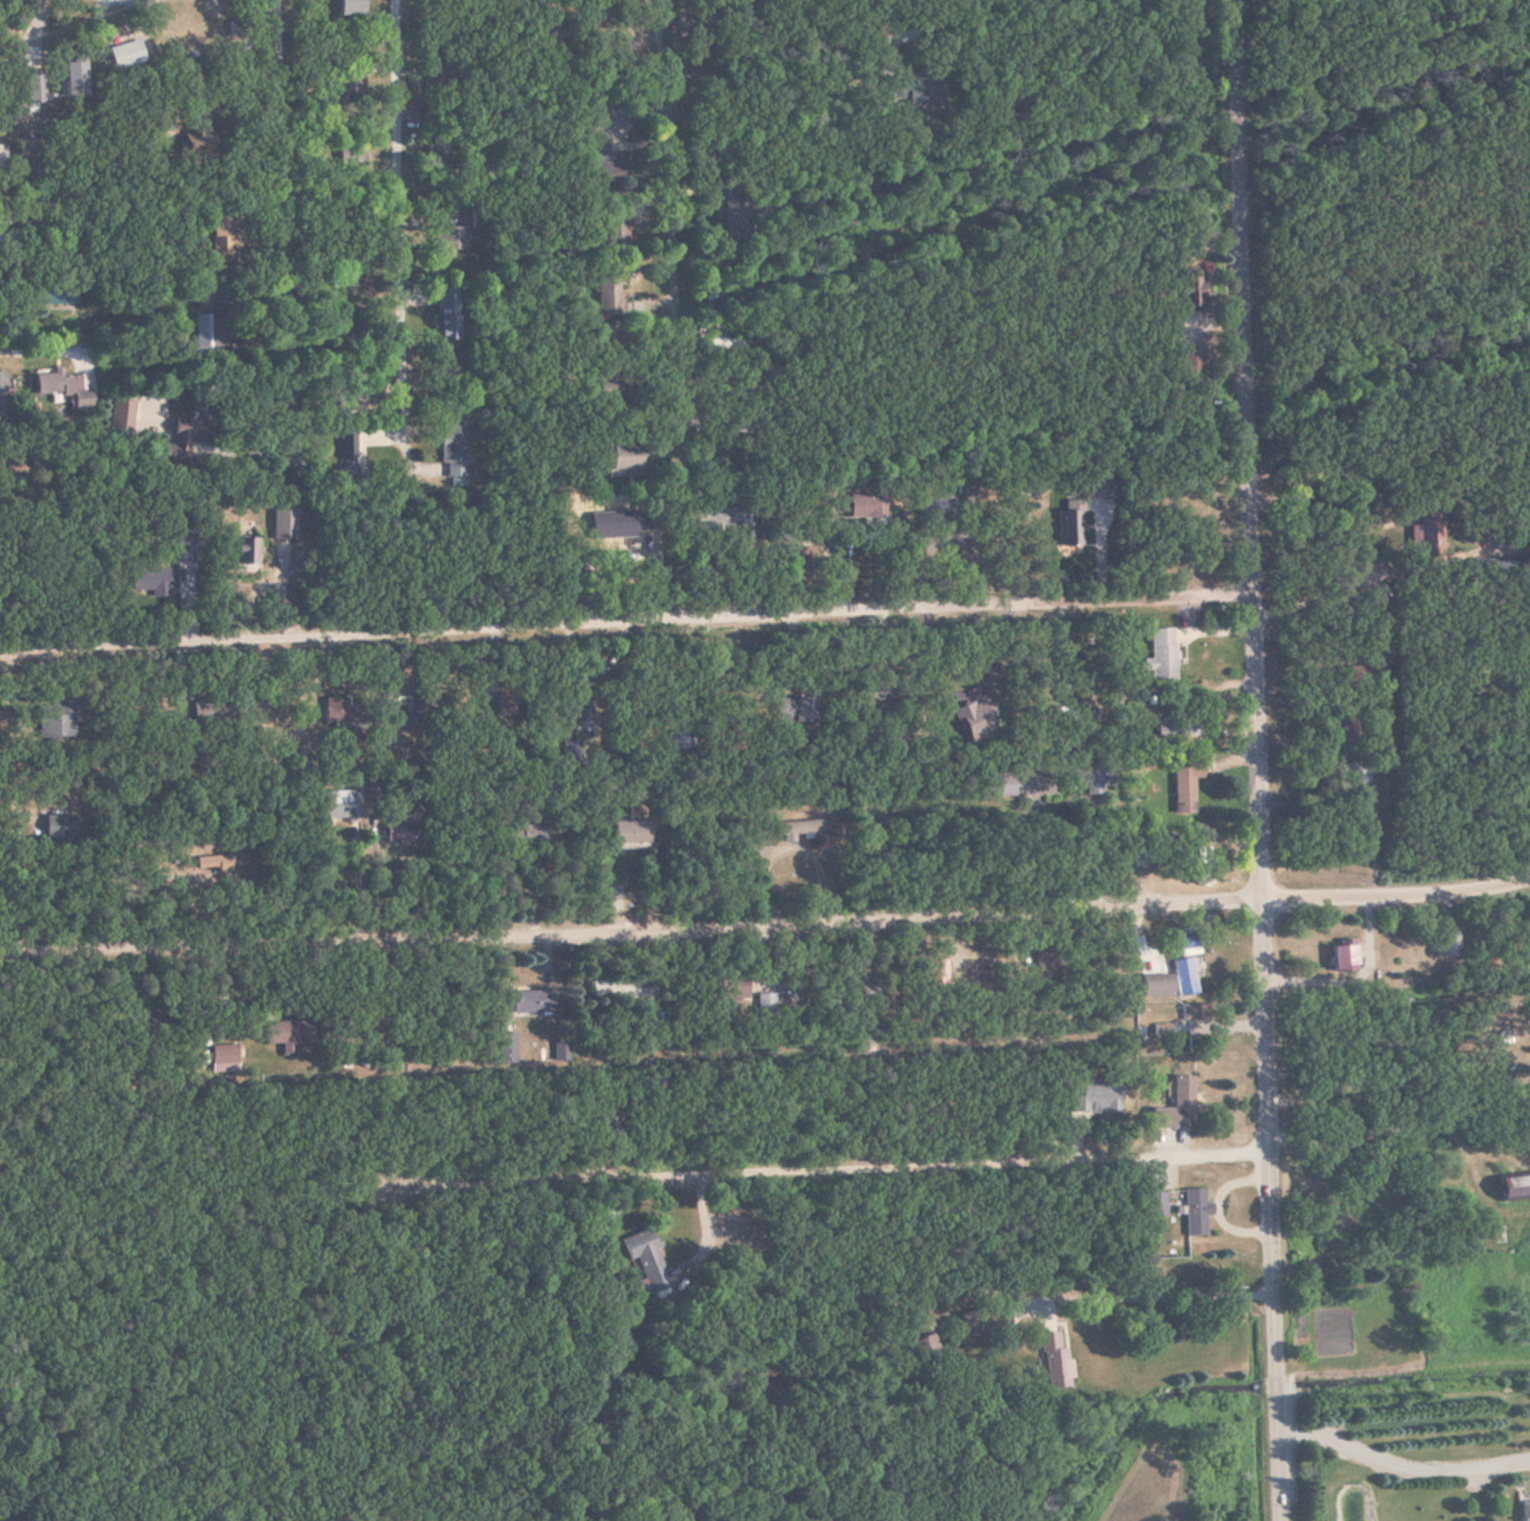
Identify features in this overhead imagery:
building: (351, 7)
road: (527, 18)
building: (547, 41)
building: (125, 54)
building: (439, 77)
road: (64, 94)
building: (28, 148)
building: (0, 156)
building: (598, 157)
road: (70, 198)
building: (718, 200)
road: (676, 232)
road: (403, 233)
road: (281, 235)
building: (222, 241)
building: (449, 242)
building: (1191, 289)
building: (607, 294)
road: (72, 297)
building: (446, 314)
building: (205, 329)
building: (359, 332)
building: (725, 346)
building: (54, 383)
building: (3, 394)
building: (121, 417)
building: (188, 432)
building: (345, 445)
building: (454, 451)
building: (624, 458)
building: (1099, 489)
building: (958, 493)
building: (865, 506)
building: (719, 520)
building: (639, 521)
building: (284, 525)
building: (1069, 528)
building: (1427, 531)
building: (185, 545)
building: (247, 552)
building: (798, 562)
building: (149, 580)
road: (624, 617)
building: (1160, 655)
building: (505, 708)
building: (581, 711)
building: (793, 711)
building: (409, 712)
building: (974, 720)
building: (342, 723)
building: (57, 724)
building: (1173, 727)
building: (1343, 728)
road: (1253, 760)
building: (1093, 778)
building: (1185, 784)
building: (1002, 785)
building: (341, 805)
building: (802, 831)
building: (403, 833)
building: (632, 833)
building: (535, 835)
building: (214, 865)
road: (766, 924)
building: (1189, 943)
building: (1447, 945)
building: (1344, 959)
building: (1044, 965)
building: (1184, 978)
building: (735, 984)
building: (1157, 989)
building: (644, 997)
building: (532, 1002)
building: (762, 1005)
building: (1190, 1013)
building: (288, 1035)
building: (505, 1046)
building: (223, 1058)
road: (926, 1080)
building: (1095, 1097)
building: (1177, 1107)
road: (582, 1126)
road: (902, 1166)
building: (1515, 1190)
building: (1158, 1203)
building: (1195, 1212)
building: (647, 1259)
building: (1051, 1357)
building: (1525, 1510)

